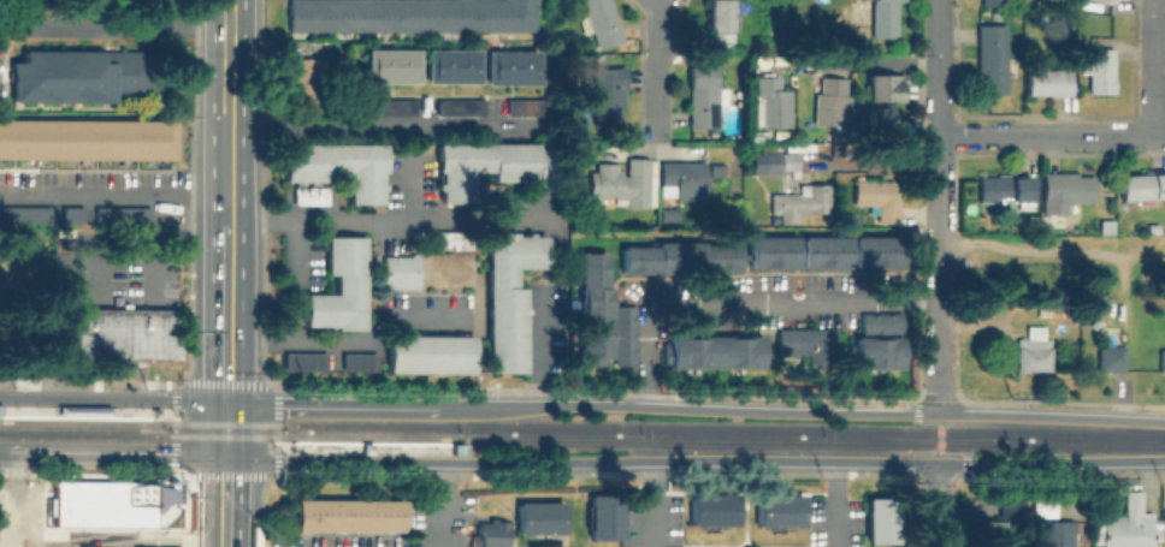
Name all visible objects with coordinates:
building: (1107, 1)
building: (993, 2)
building: (412, 14)
road: (658, 16)
building: (885, 18)
building: (720, 19)
building: (602, 22)
road: (113, 28)
road: (227, 55)
building: (992, 59)
road: (874, 63)
building: (391, 65)
building: (453, 65)
building: (513, 66)
road: (1157, 67)
building: (1099, 70)
building: (87, 76)
building: (303, 79)
building: (1047, 82)
road: (658, 85)
building: (887, 90)
building: (608, 95)
building: (705, 95)
building: (832, 103)
building: (775, 105)
building: (396, 106)
building: (461, 106)
building: (526, 106)
road: (384, 127)
building: (882, 133)
road: (1053, 136)
building: (87, 138)
building: (764, 159)
building: (339, 165)
building: (491, 166)
road: (226, 170)
building: (685, 178)
building: (1143, 185)
building: (625, 186)
road: (409, 189)
building: (1004, 189)
building: (1066, 191)
building: (311, 195)
road: (113, 196)
building: (879, 197)
building: (799, 203)
road: (940, 207)
building: (24, 212)
building: (72, 212)
building: (123, 214)
road: (378, 222)
building: (1105, 227)
road: (155, 238)
building: (454, 239)
road: (1052, 246)
building: (880, 250)
building: (774, 251)
building: (827, 251)
road: (292, 255)
building: (685, 257)
building: (401, 270)
building: (341, 286)
building: (509, 295)
building: (593, 307)
road: (746, 307)
building: (1046, 311)
road: (225, 314)
building: (126, 333)
building: (626, 333)
building: (883, 339)
road: (343, 340)
building: (809, 343)
road: (538, 349)
building: (430, 352)
building: (714, 355)
building: (1034, 355)
building: (1112, 358)
building: (306, 359)
building: (1163, 359)
building: (360, 361)
road: (112, 398)
traffic signals: (225, 400)
road: (330, 402)
railway: (149, 412)
road: (162, 412)
road: (800, 412)
road: (225, 415)
railway: (83, 421)
railway: (224, 423)
railway: (723, 428)
railway: (83, 433)
railway: (223, 435)
railway: (372, 436)
road: (940, 439)
railway: (814, 441)
road: (224, 445)
road: (284, 447)
railway: (460, 452)
road: (5, 456)
road: (117, 457)
traffic signals: (224, 459)
road: (694, 460)
road: (274, 471)
road: (224, 503)
road: (438, 504)
road: (650, 504)
road: (832, 504)
road: (933, 505)
building: (715, 510)
building: (781, 510)
building: (351, 515)
building: (539, 517)
building: (602, 517)
building: (885, 521)
building: (1163, 525)
building: (1126, 530)
road: (117, 531)
building: (492, 533)
building: (993, 533)
building: (1052, 534)
road: (201, 539)
road: (229, 545)
building: (550, 545)
building: (87, 546)
building: (154, 546)

